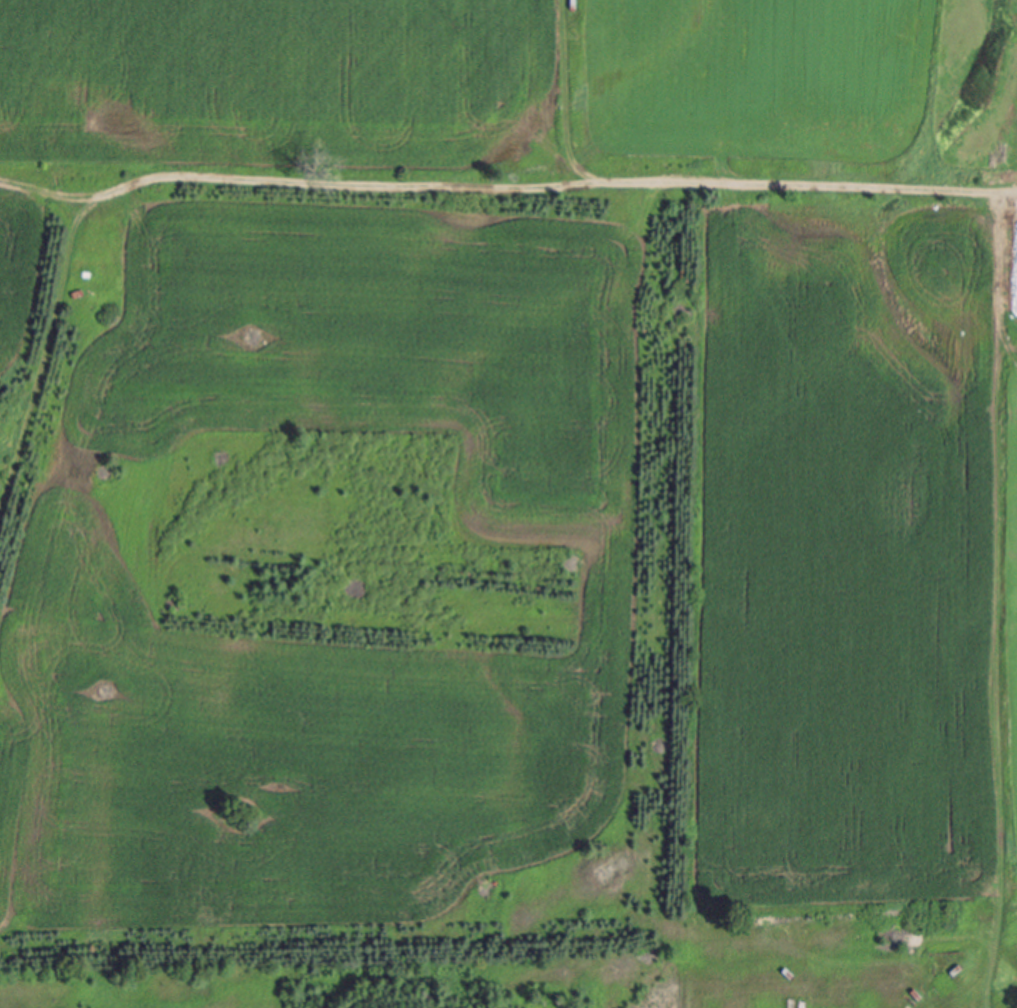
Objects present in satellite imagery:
road: (804, 185)
quarry: (526, 978)

